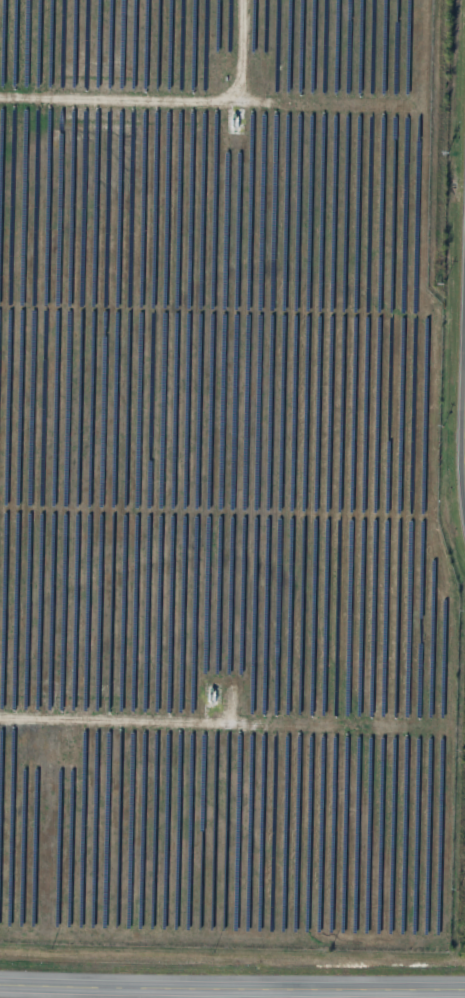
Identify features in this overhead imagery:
road: (463, 427)
solar farm: (213, 458)
road: (232, 985)

